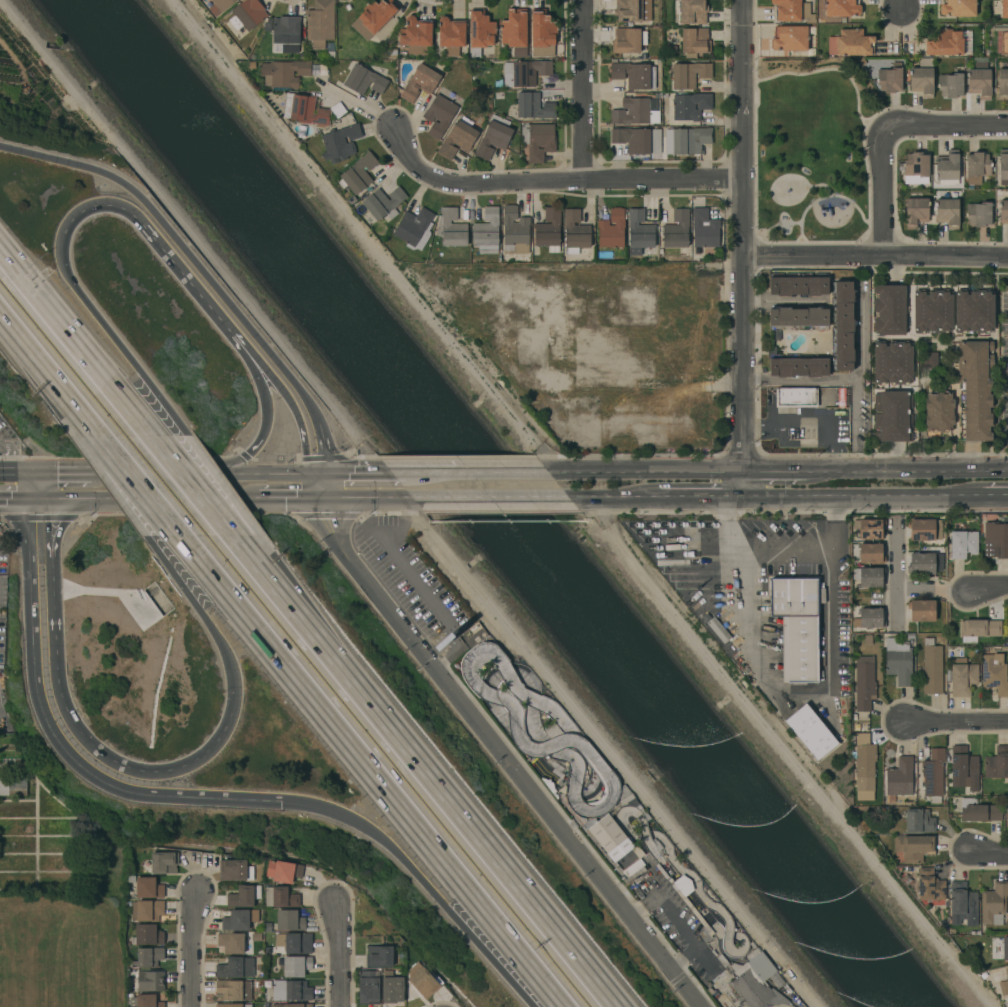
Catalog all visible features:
building: (621, 4)
building: (219, 6)
road: (902, 6)
building: (957, 7)
building: (842, 8)
building: (1004, 9)
building: (791, 10)
building: (630, 12)
building: (693, 12)
building: (247, 14)
building: (374, 17)
building: (320, 23)
building: (286, 29)
building: (480, 31)
building: (515, 31)
building: (418, 32)
building: (542, 33)
building: (451, 35)
building: (620, 35)
building: (789, 38)
building: (695, 41)
building: (630, 42)
building: (966, 42)
building: (850, 43)
building: (945, 43)
building: (673, 50)
building: (319, 70)
building: (527, 71)
building: (284, 73)
building: (689, 74)
building: (634, 75)
building: (890, 78)
building: (922, 78)
building: (364, 80)
building: (419, 83)
building: (979, 83)
building: (1003, 84)
building: (950, 85)
road: (583, 90)
building: (533, 106)
building: (690, 106)
building: (337, 109)
building: (305, 110)
building: (633, 112)
building: (439, 115)
road: (946, 125)
building: (494, 137)
building: (457, 139)
building: (538, 140)
building: (638, 140)
building: (686, 140)
building: (340, 143)
park: (812, 150)
building: (1003, 165)
building: (977, 167)
building: (947, 168)
building: (916, 169)
building: (358, 173)
road: (554, 181)
road: (883, 193)
building: (383, 203)
building: (916, 211)
building: (947, 212)
building: (1004, 212)
building: (978, 214)
building: (450, 228)
building: (514, 228)
building: (415, 229)
building: (704, 229)
building: (548, 230)
building: (612, 230)
building: (575, 231)
building: (677, 231)
building: (487, 232)
building: (640, 234)
road: (743, 248)
road: (165, 249)
road: (183, 249)
road: (876, 256)
building: (798, 285)
road: (783, 301)
road: (88, 306)
building: (890, 310)
building: (932, 311)
building: (974, 311)
building: (798, 317)
building: (841, 326)
road: (71, 340)
building: (929, 359)
building: (892, 363)
road: (43, 367)
building: (798, 367)
road: (258, 372)
road: (860, 382)
road: (802, 383)
building: (977, 388)
building: (796, 397)
road: (161, 401)
building: (939, 411)
building: (893, 416)
road: (810, 420)
road: (298, 423)
road: (264, 428)
road: (102, 441)
road: (323, 447)
road: (234, 466)
road: (12, 470)
traffic signals: (25, 470)
road: (34, 470)
traffic signals: (44, 471)
road: (774, 471)
road: (906, 471)
road: (75, 472)
road: (513, 472)
road: (655, 472)
road: (167, 473)
road: (277, 473)
traffic signals: (306, 473)
traffic signals: (326, 473)
road: (365, 473)
road: (432, 473)
road: (25, 484)
road: (44, 484)
road: (723, 484)
road: (326, 485)
road: (845, 496)
road: (977, 496)
road: (466, 497)
road: (596, 497)
road: (694, 497)
road: (35, 498)
traffic signals: (45, 498)
road: (151, 498)
road: (291, 498)
traffic signals: (326, 498)
road: (355, 498)
road: (13, 499)
traffic signals: (26, 499)
road: (200, 500)
road: (220, 501)
road: (134, 502)
road: (153, 503)
building: (870, 528)
building: (921, 529)
building: (997, 538)
building: (962, 544)
building: (871, 553)
building: (921, 563)
road: (175, 577)
building: (871, 577)
road: (417, 581)
road: (988, 589)
road: (899, 590)
road: (895, 607)
building: (921, 610)
building: (871, 618)
building: (797, 626)
building: (980, 628)
building: (718, 630)
building: (1006, 632)
road: (228, 656)
building: (898, 661)
building: (931, 668)
building: (994, 673)
building: (963, 679)
building: (864, 683)
road: (800, 694)
road: (66, 720)
road: (958, 720)
building: (811, 732)
road: (54, 738)
road: (784, 749)
road: (507, 756)
building: (864, 762)
building: (997, 764)
building: (962, 765)
road: (372, 771)
building: (933, 775)
building: (899, 777)
building: (13, 787)
road: (435, 789)
traffic signals: (280, 801)
building: (978, 811)
building: (919, 821)
road: (374, 834)
building: (612, 838)
building: (914, 847)
road: (988, 855)
building: (161, 863)
building: (633, 867)
building: (235, 870)
building: (283, 871)
building: (634, 875)
building: (930, 887)
building: (148, 888)
building: (244, 896)
building: (280, 897)
building: (994, 903)
building: (962, 905)
building: (147, 910)
building: (695, 913)
road: (674, 918)
building: (238, 919)
building: (289, 920)
building: (148, 934)
building: (231, 943)
building: (298, 943)
building: (1005, 948)
park: (62, 949)
road: (191, 949)
road: (501, 952)
road: (338, 953)
building: (379, 956)
building: (148, 957)
building: (296, 966)
building: (238, 968)
building: (149, 981)
building: (422, 981)
building: (757, 982)
building: (1004, 984)
building: (369, 987)
building: (392, 988)
building: (233, 990)
building: (291, 990)
building: (147, 1001)
road: (560, 1002)
building: (233, 1005)
building: (291, 1005)

